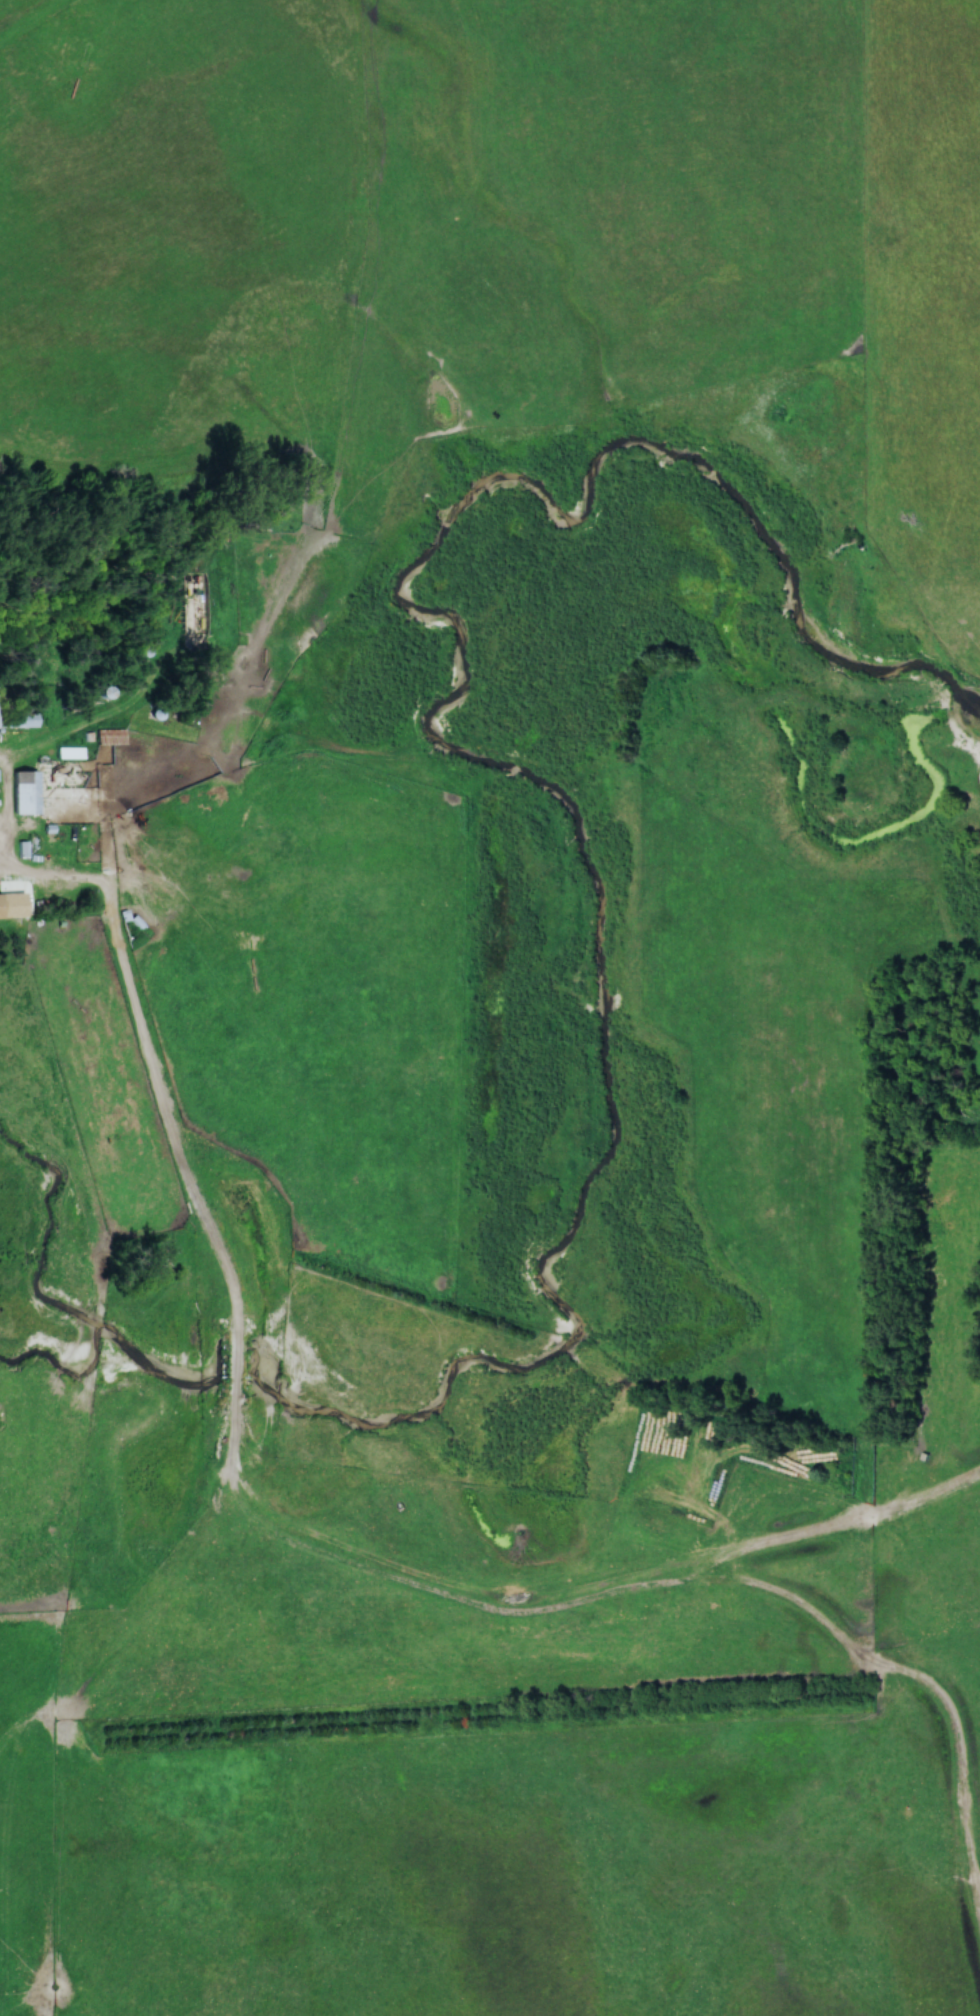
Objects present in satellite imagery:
building: (21, 793)
river: (601, 922)

